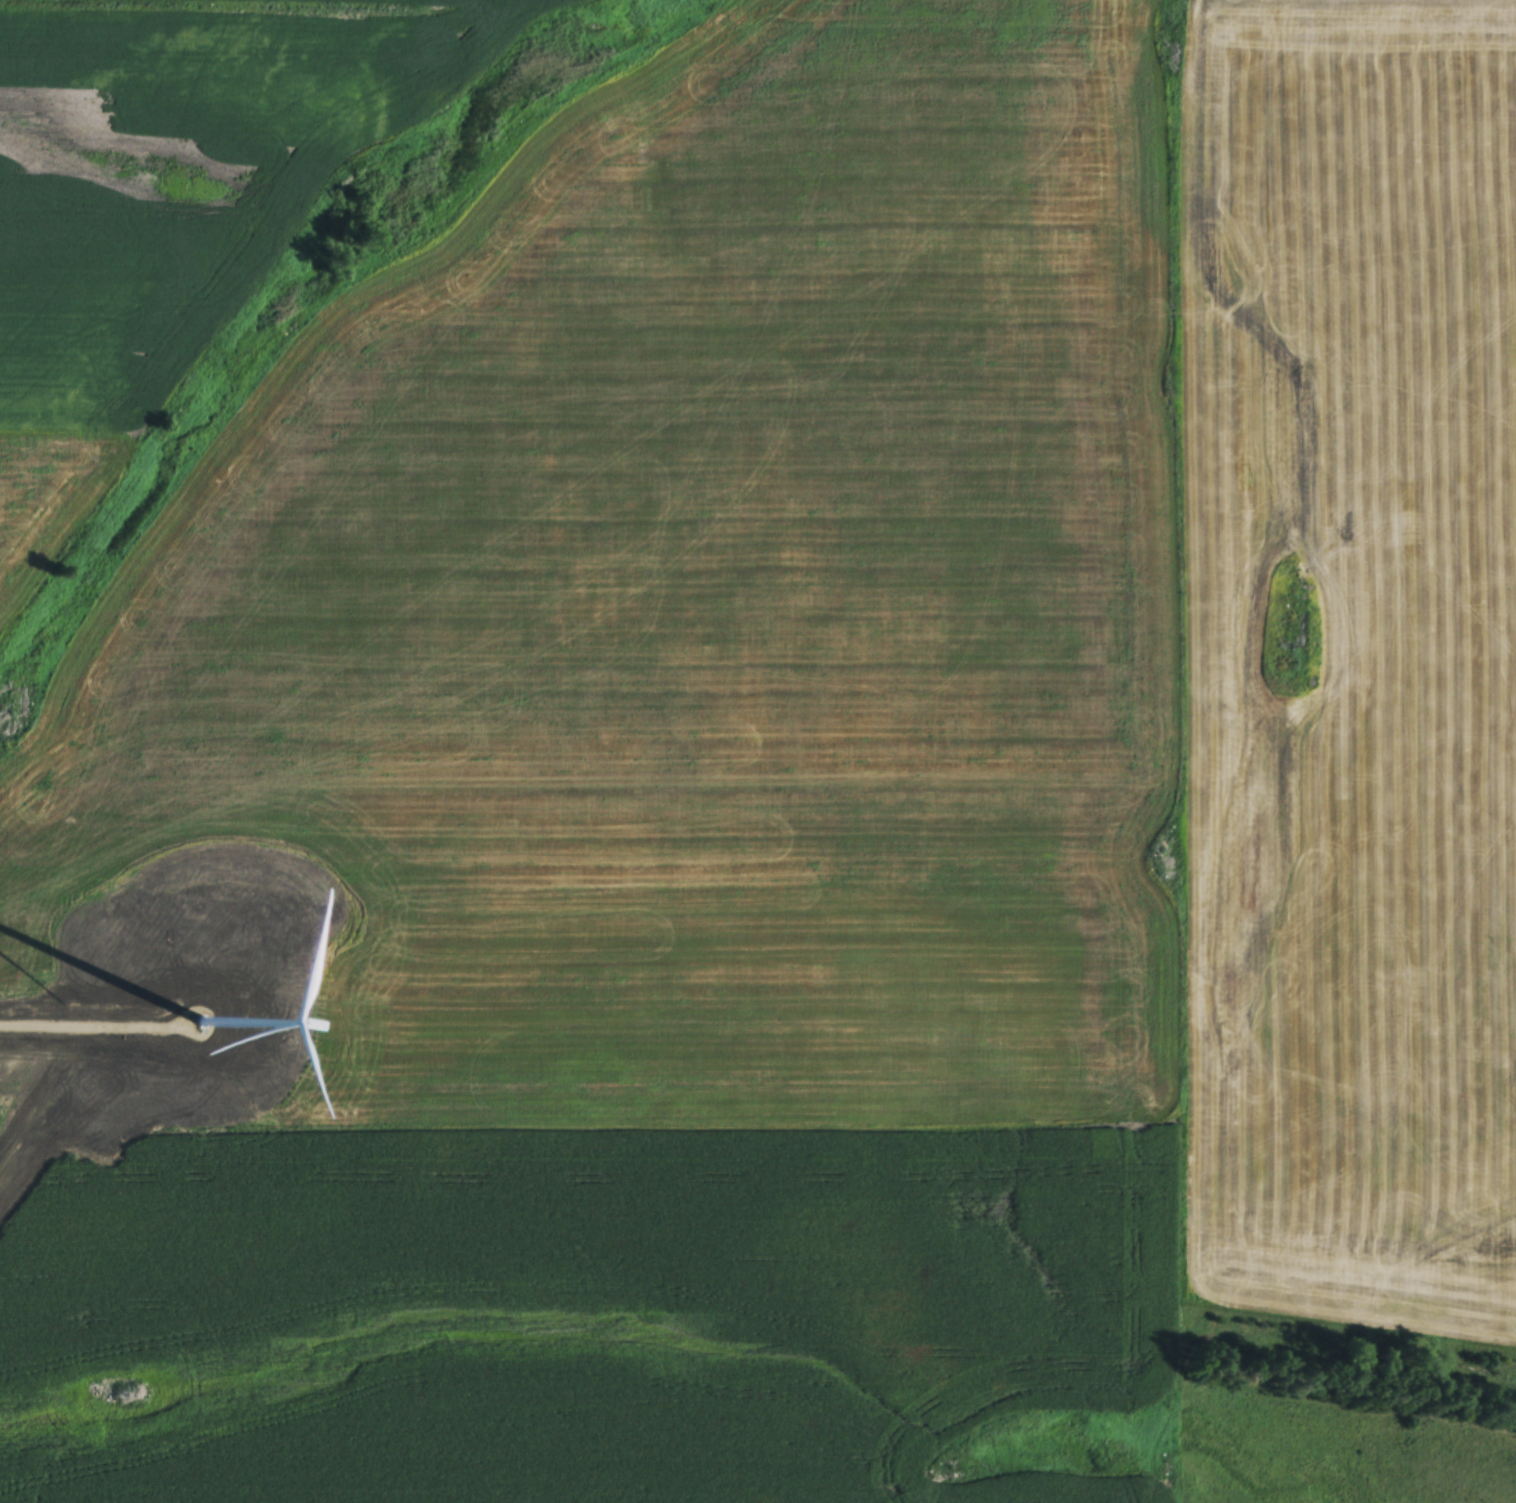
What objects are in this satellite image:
wind turbine: (202, 1020)

